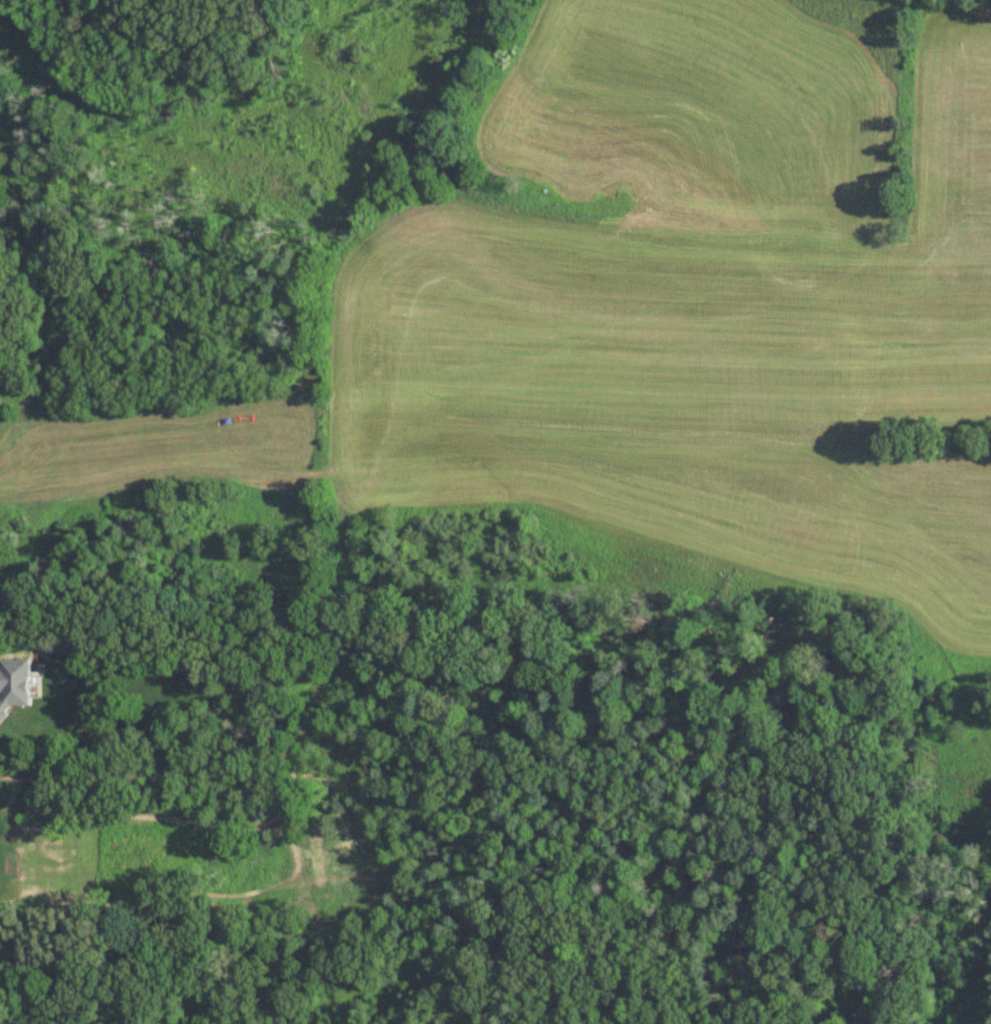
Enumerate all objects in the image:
building: (14, 685)

